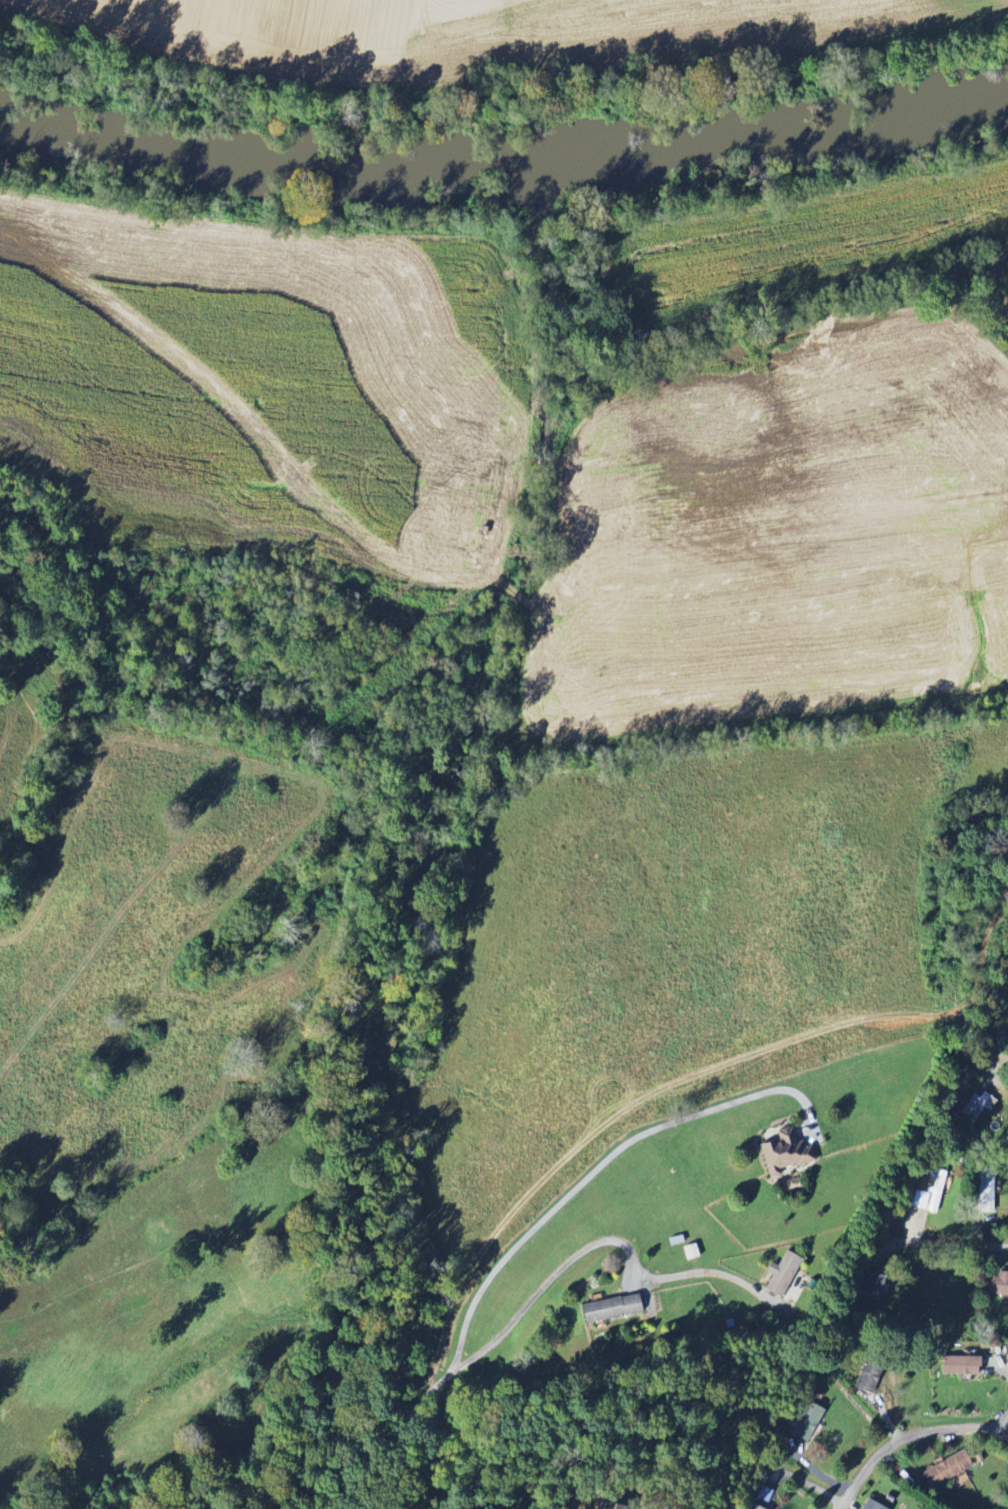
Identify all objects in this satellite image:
river: (786, 139)
river: (279, 161)
building: (1007, 1022)
building: (973, 1109)
building: (781, 1153)
road: (597, 1168)
building: (984, 1191)
road: (951, 1245)
building: (780, 1275)
building: (997, 1285)
building: (871, 1287)
road: (535, 1298)
building: (607, 1309)
building: (956, 1366)
building: (804, 1422)
road: (907, 1437)
building: (945, 1470)
building: (869, 1506)
building: (750, 1507)

